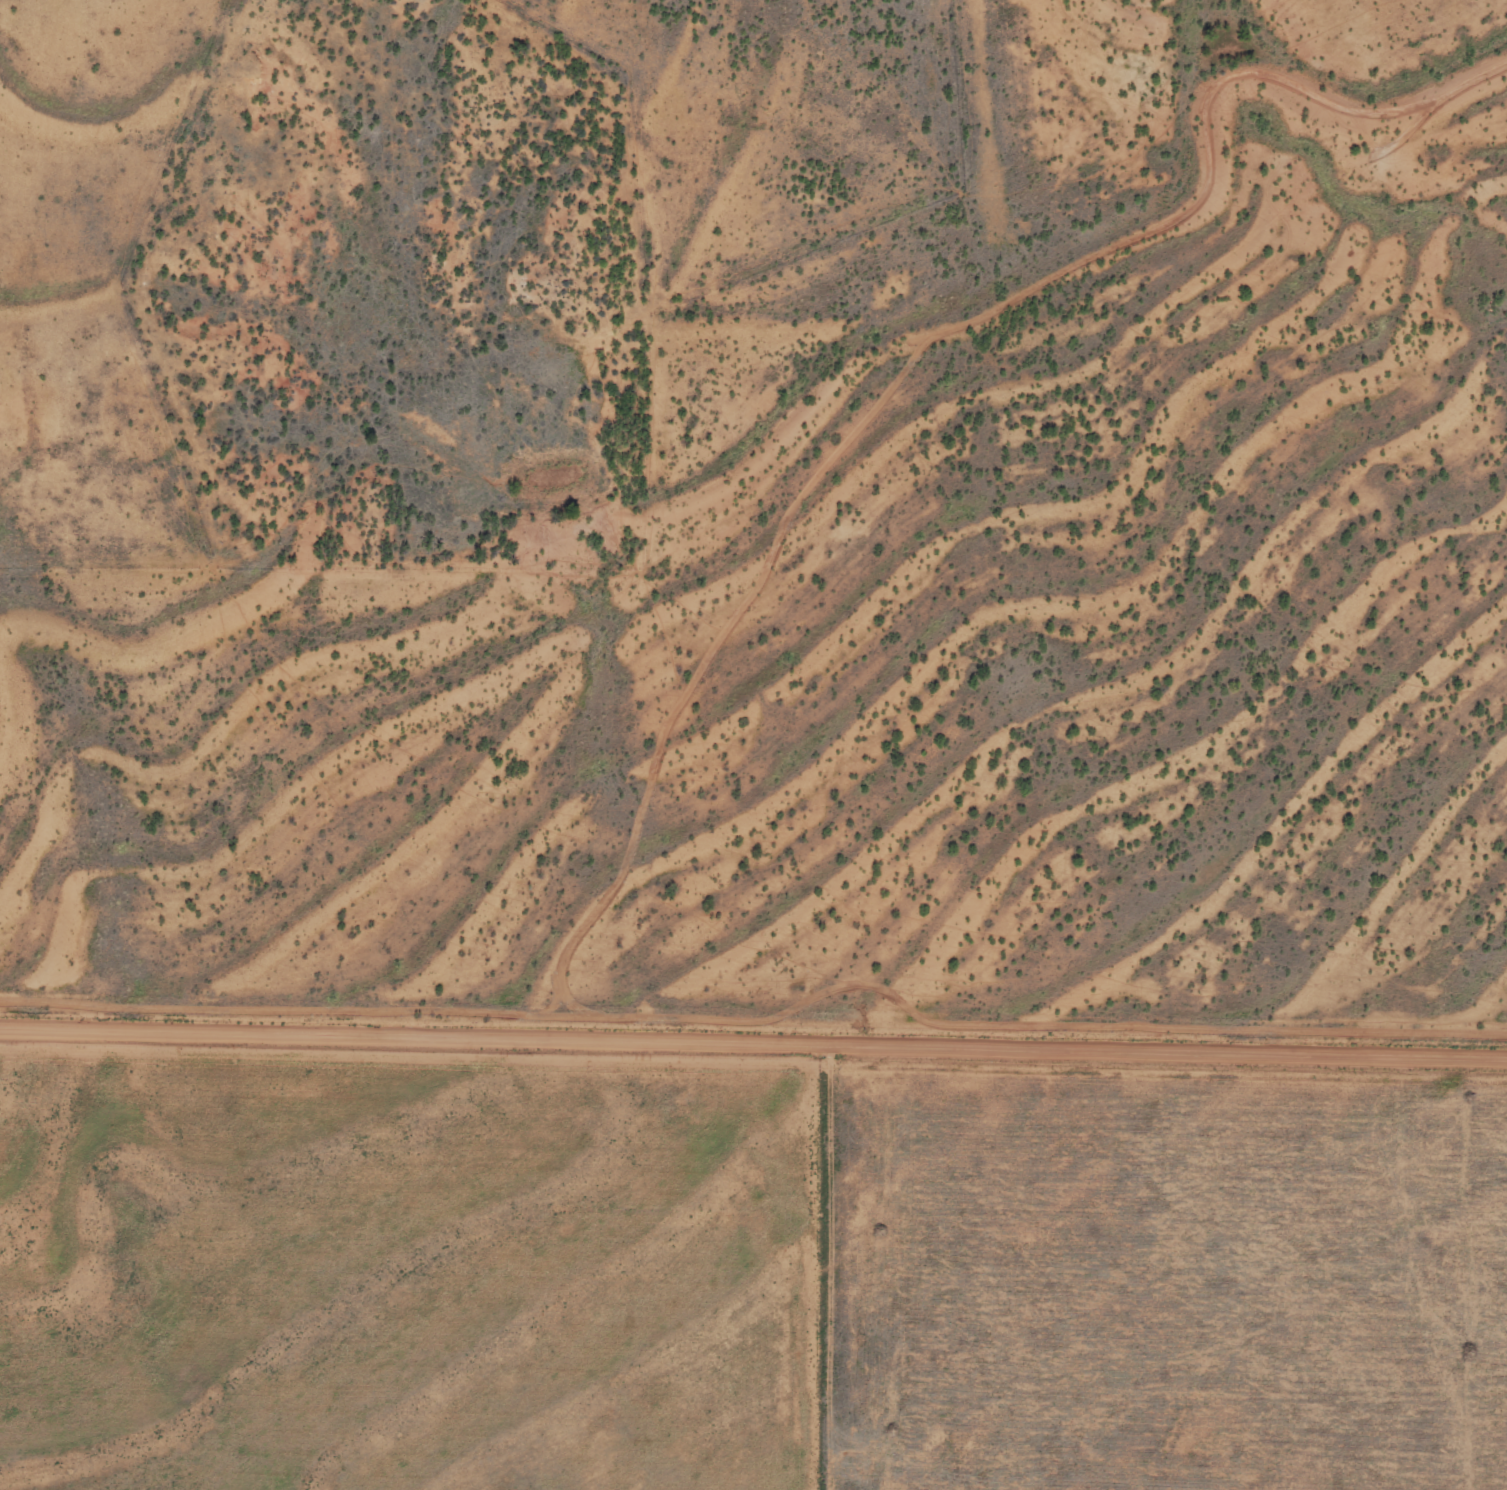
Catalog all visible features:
road: (753, 1042)

